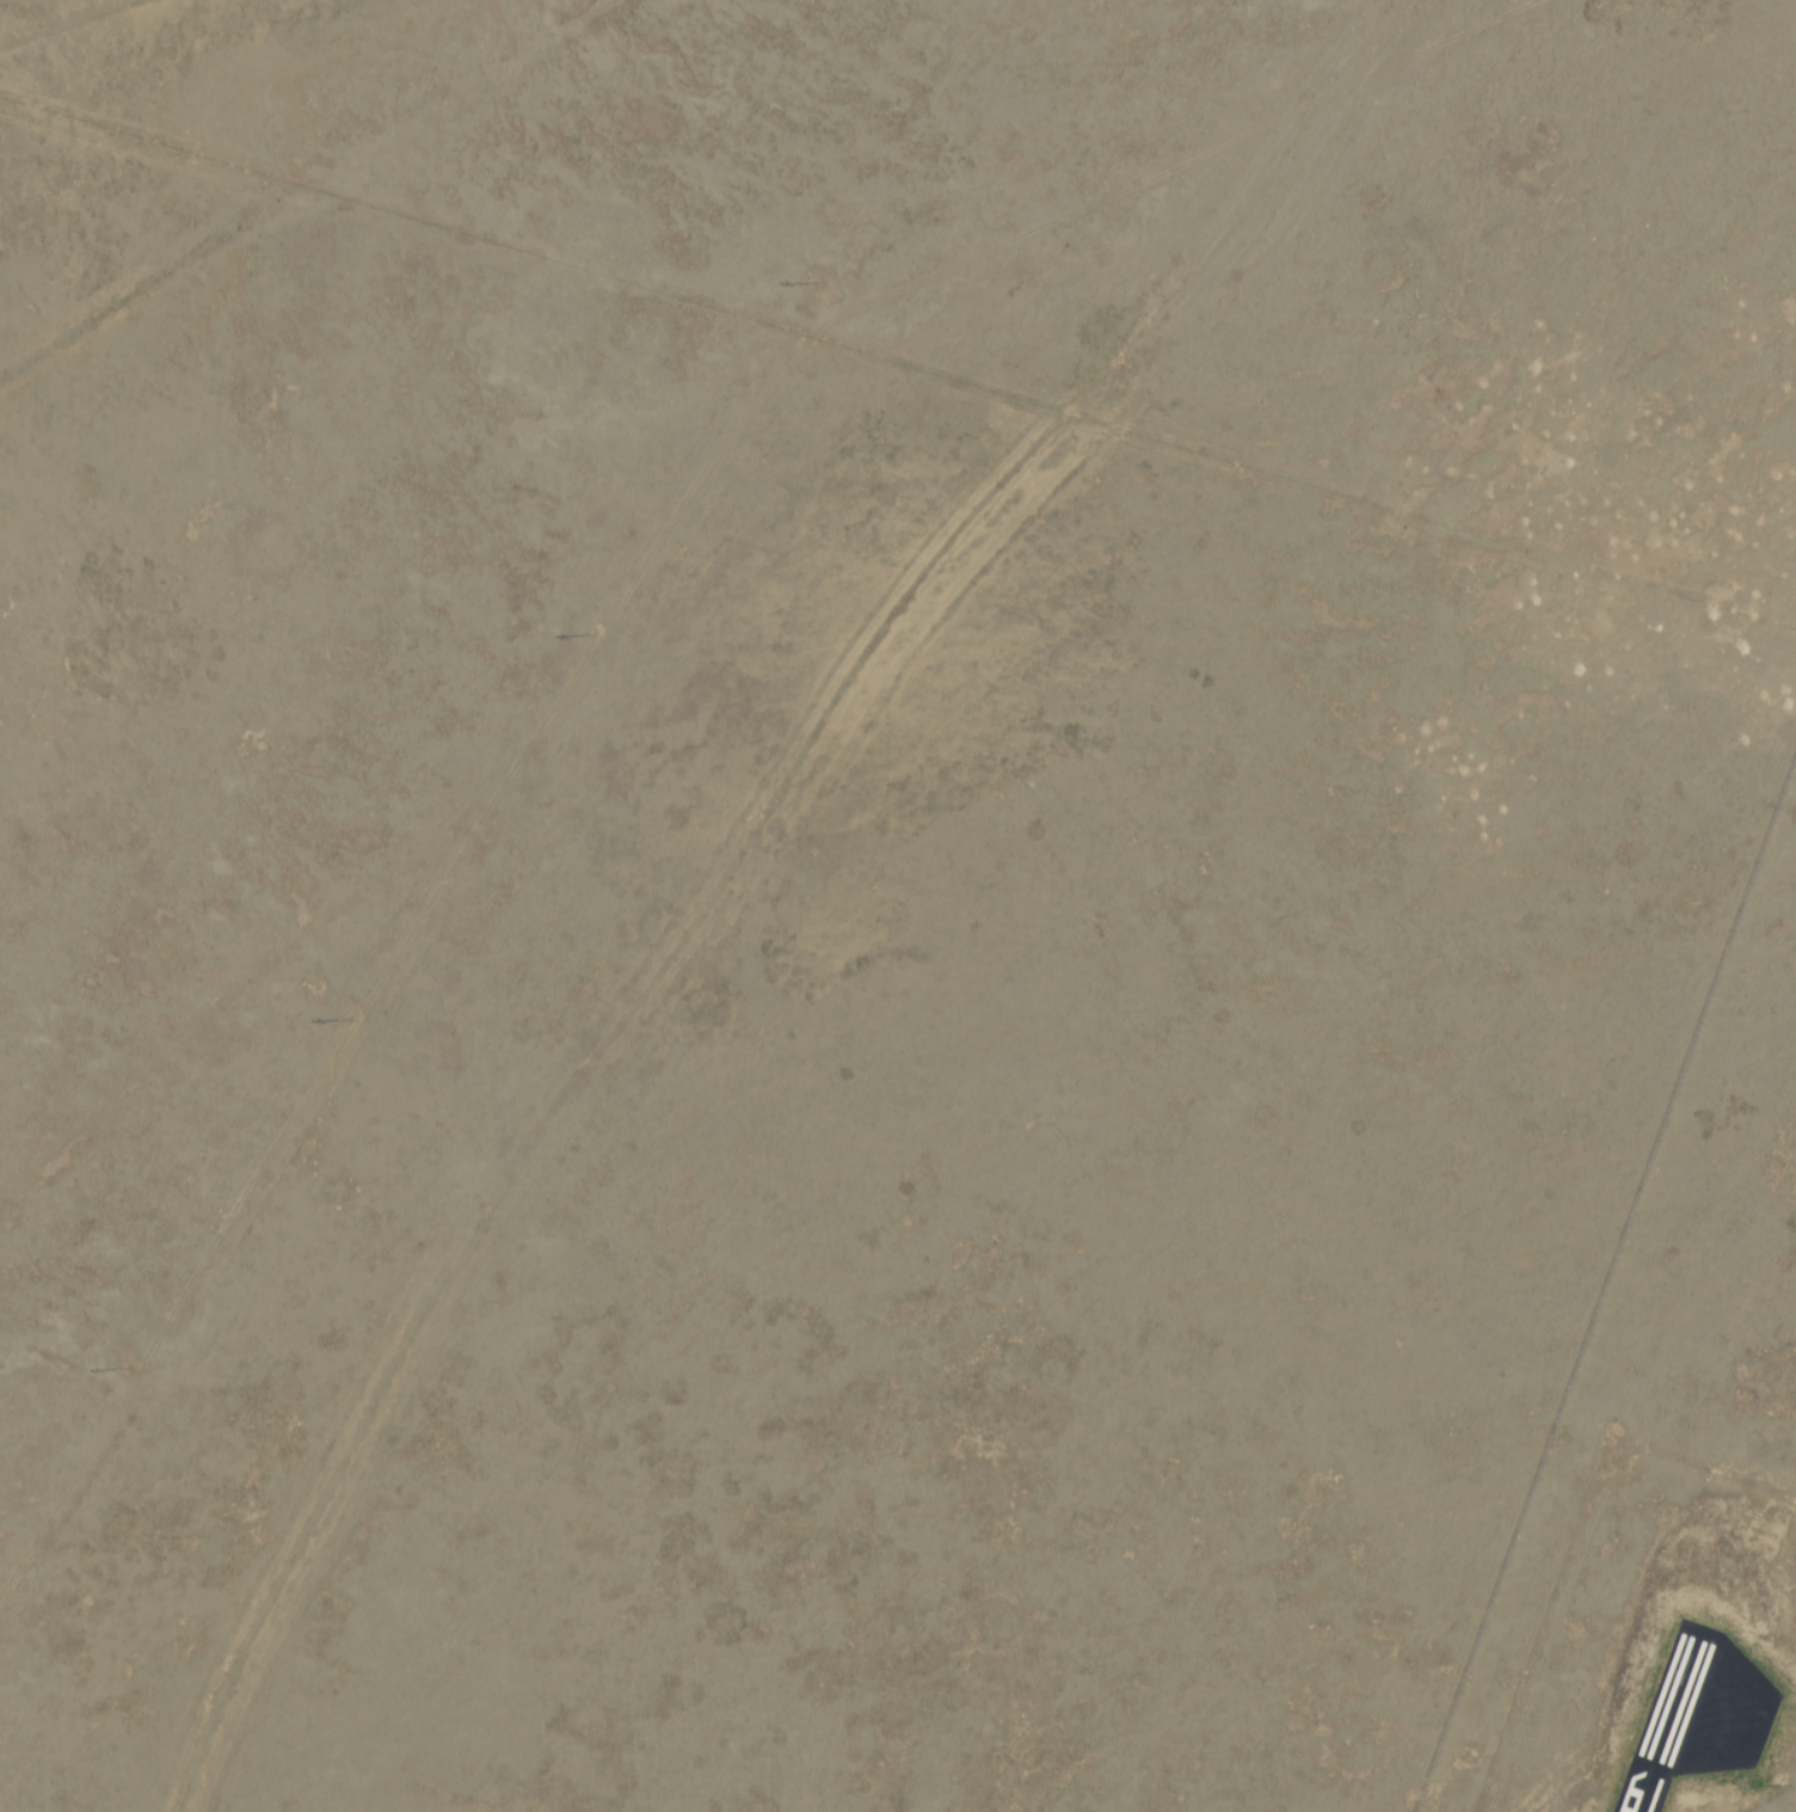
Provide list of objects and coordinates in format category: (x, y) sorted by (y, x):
airport runway: (1669, 1721)

